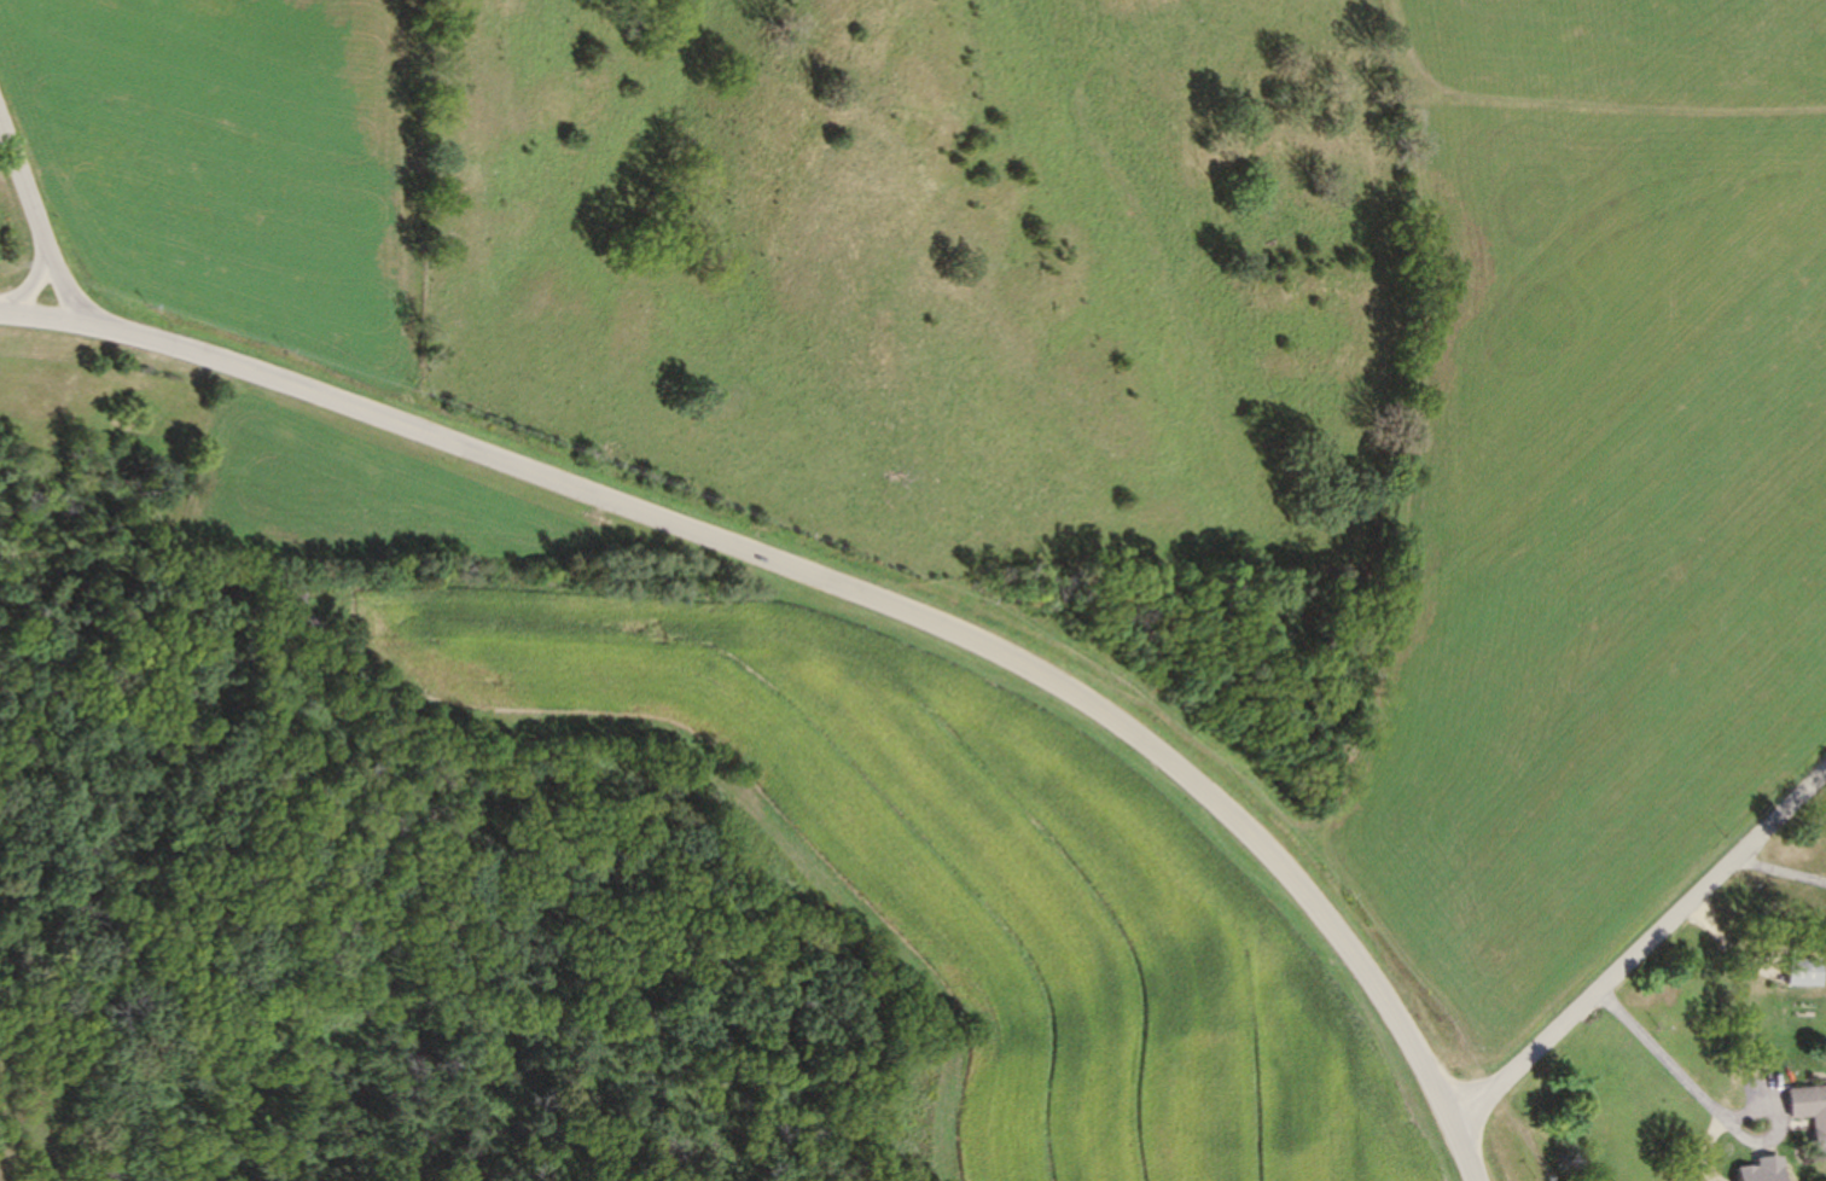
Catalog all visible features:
road: (34, 211)
road: (844, 590)
road: (1639, 950)
building: (1796, 968)
road: (1712, 1110)
building: (1808, 1112)

